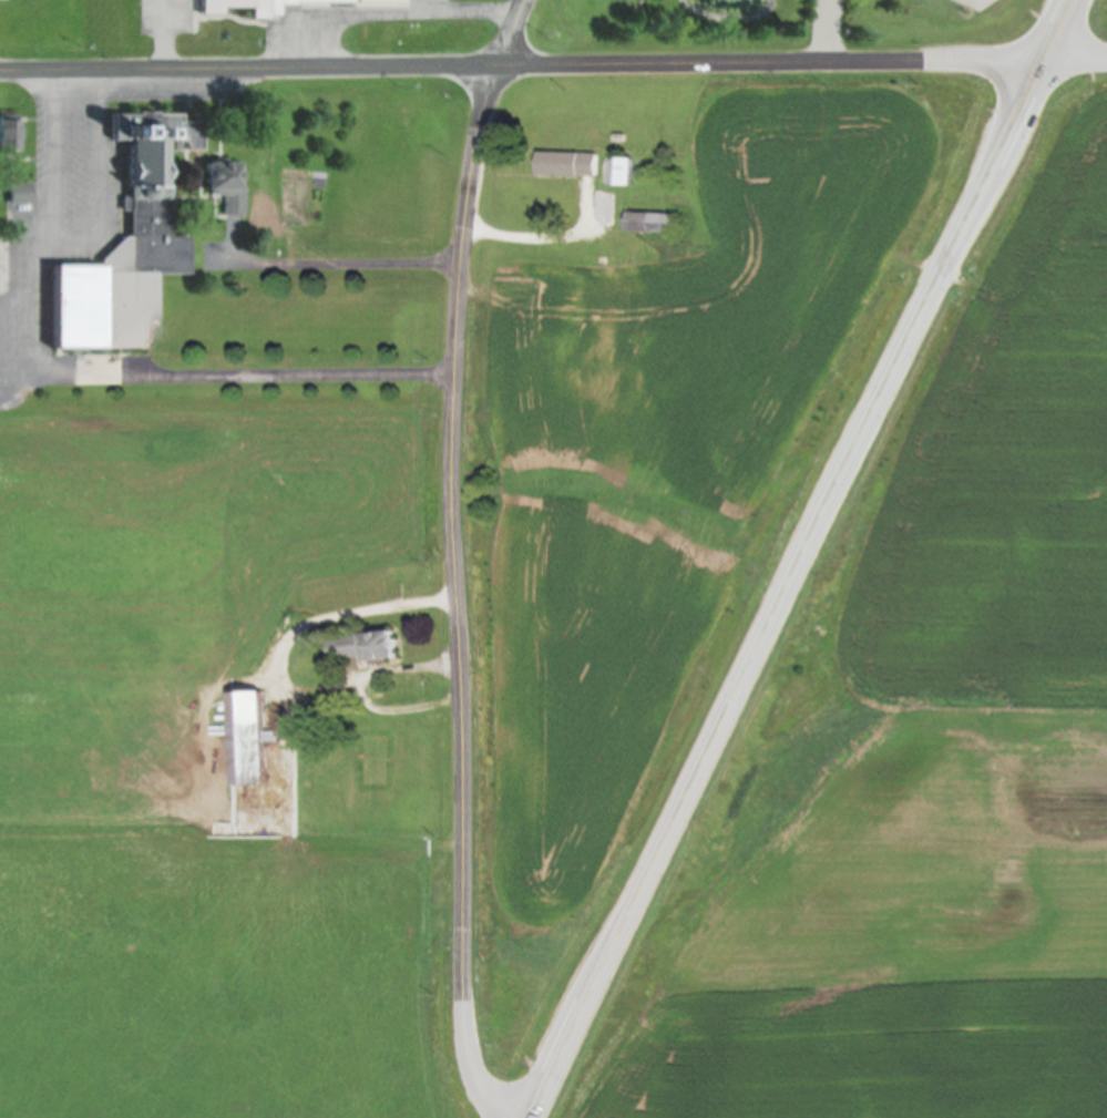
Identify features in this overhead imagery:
building: (448, 0)
building: (283, 6)
road: (386, 11)
road: (828, 29)
road: (165, 33)
road: (1075, 57)
road: (522, 62)
building: (10, 134)
road: (72, 151)
building: (575, 165)
building: (627, 173)
building: (229, 187)
building: (22, 195)
building: (153, 199)
building: (658, 224)
road: (532, 239)
building: (119, 258)
road: (342, 261)
road: (239, 376)
road: (801, 558)
road: (460, 562)
road: (348, 614)
building: (375, 648)
road: (363, 688)
building: (258, 739)

